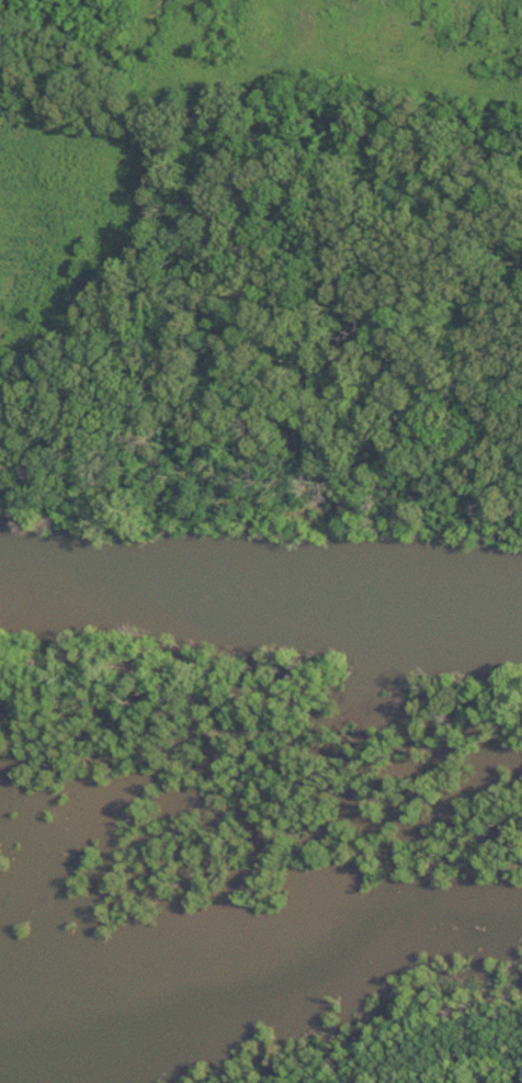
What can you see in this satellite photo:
river: (261, 603)

